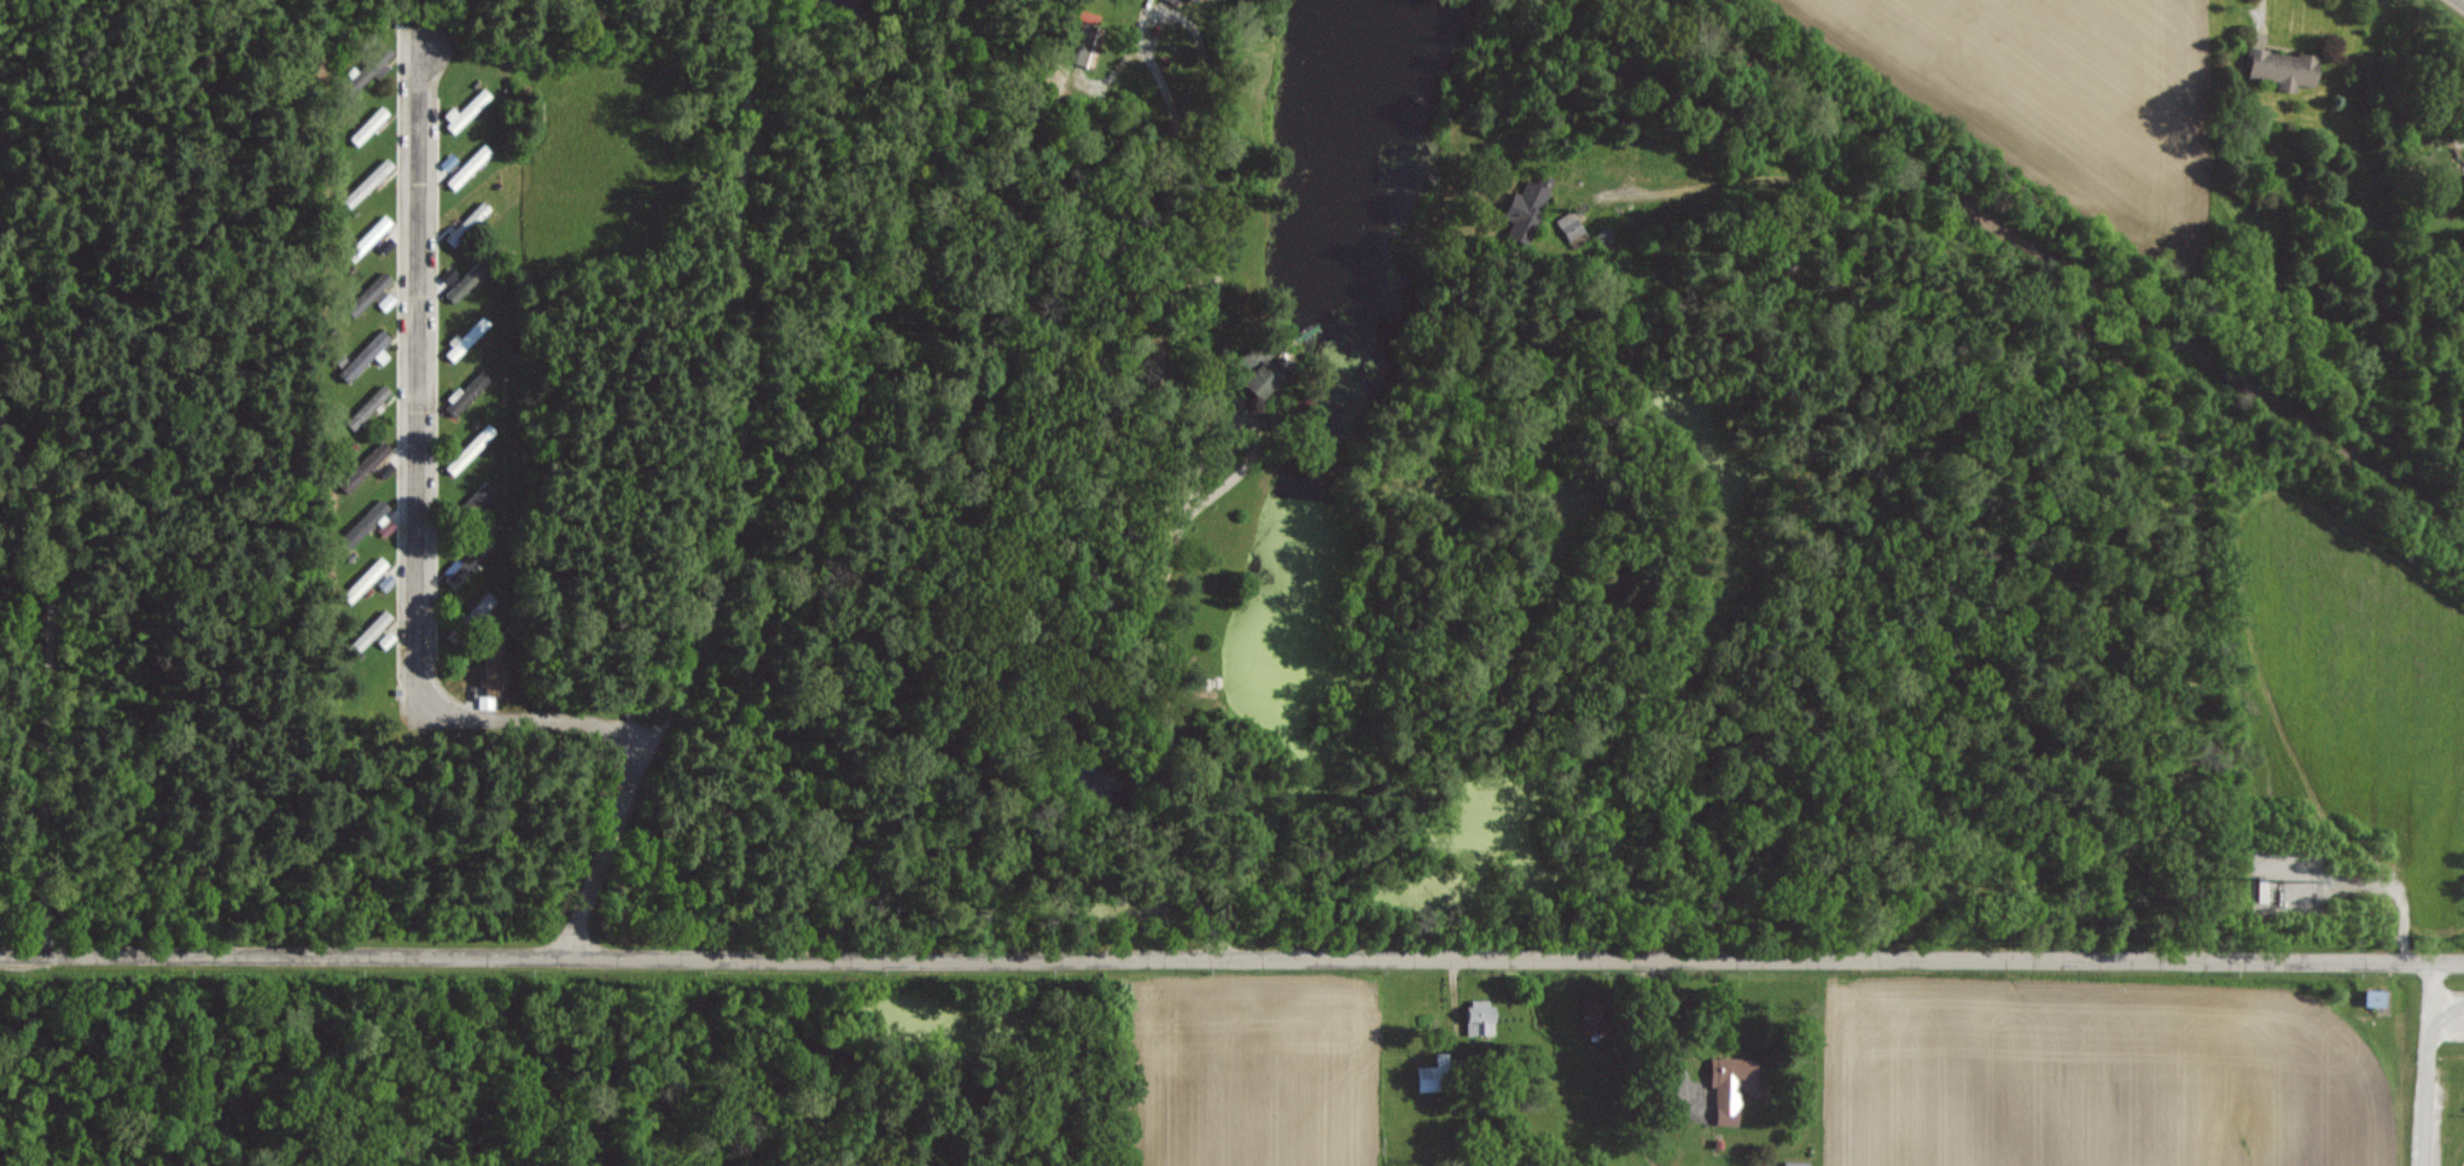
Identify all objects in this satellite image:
road: (2463, 0)
building: (1194, 1)
building: (2277, 66)
building: (363, 72)
building: (2459, 77)
building: (467, 110)
building: (371, 124)
building: (471, 165)
building: (372, 179)
building: (1524, 209)
building: (470, 222)
building: (1567, 225)
building: (374, 231)
railway: (2054, 264)
building: (466, 280)
building: (379, 291)
building: (467, 337)
building: (367, 355)
building: (1263, 379)
building: (465, 392)
building: (470, 448)
building: (375, 455)
road: (682, 484)
road: (424, 499)
building: (368, 519)
building: (458, 570)
building: (368, 577)
road: (1164, 625)
building: (373, 628)
building: (388, 639)
building: (487, 700)
road: (1231, 960)
building: (1483, 1015)
building: (1437, 1073)
building: (1725, 1086)

